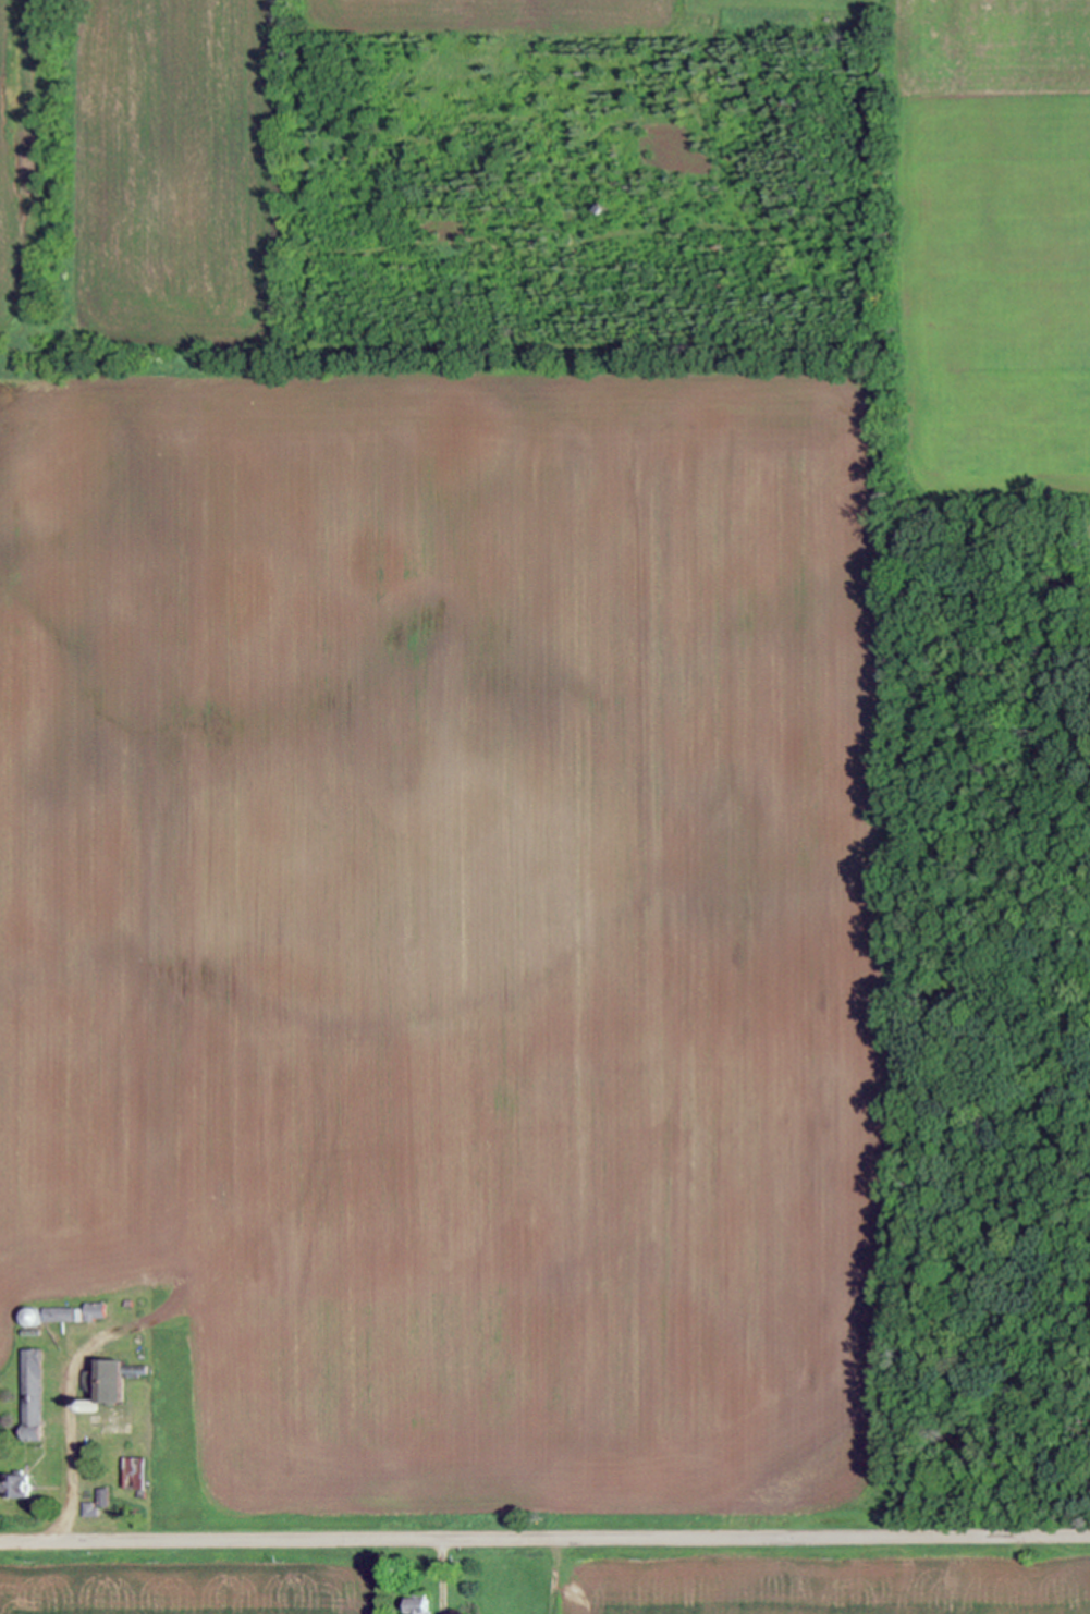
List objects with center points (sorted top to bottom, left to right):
building: (610, 208)
airport runway: (172, 947)
building: (130, 1303)
building: (95, 1311)
building: (59, 1315)
building: (81, 1317)
building: (32, 1318)
building: (30, 1333)
building: (109, 1380)
building: (30, 1395)
building: (89, 1408)
road: (63, 1436)
building: (133, 1474)
building: (16, 1487)
building: (138, 1494)
building: (94, 1504)
road: (544, 1541)
road: (438, 1578)
building: (418, 1604)

